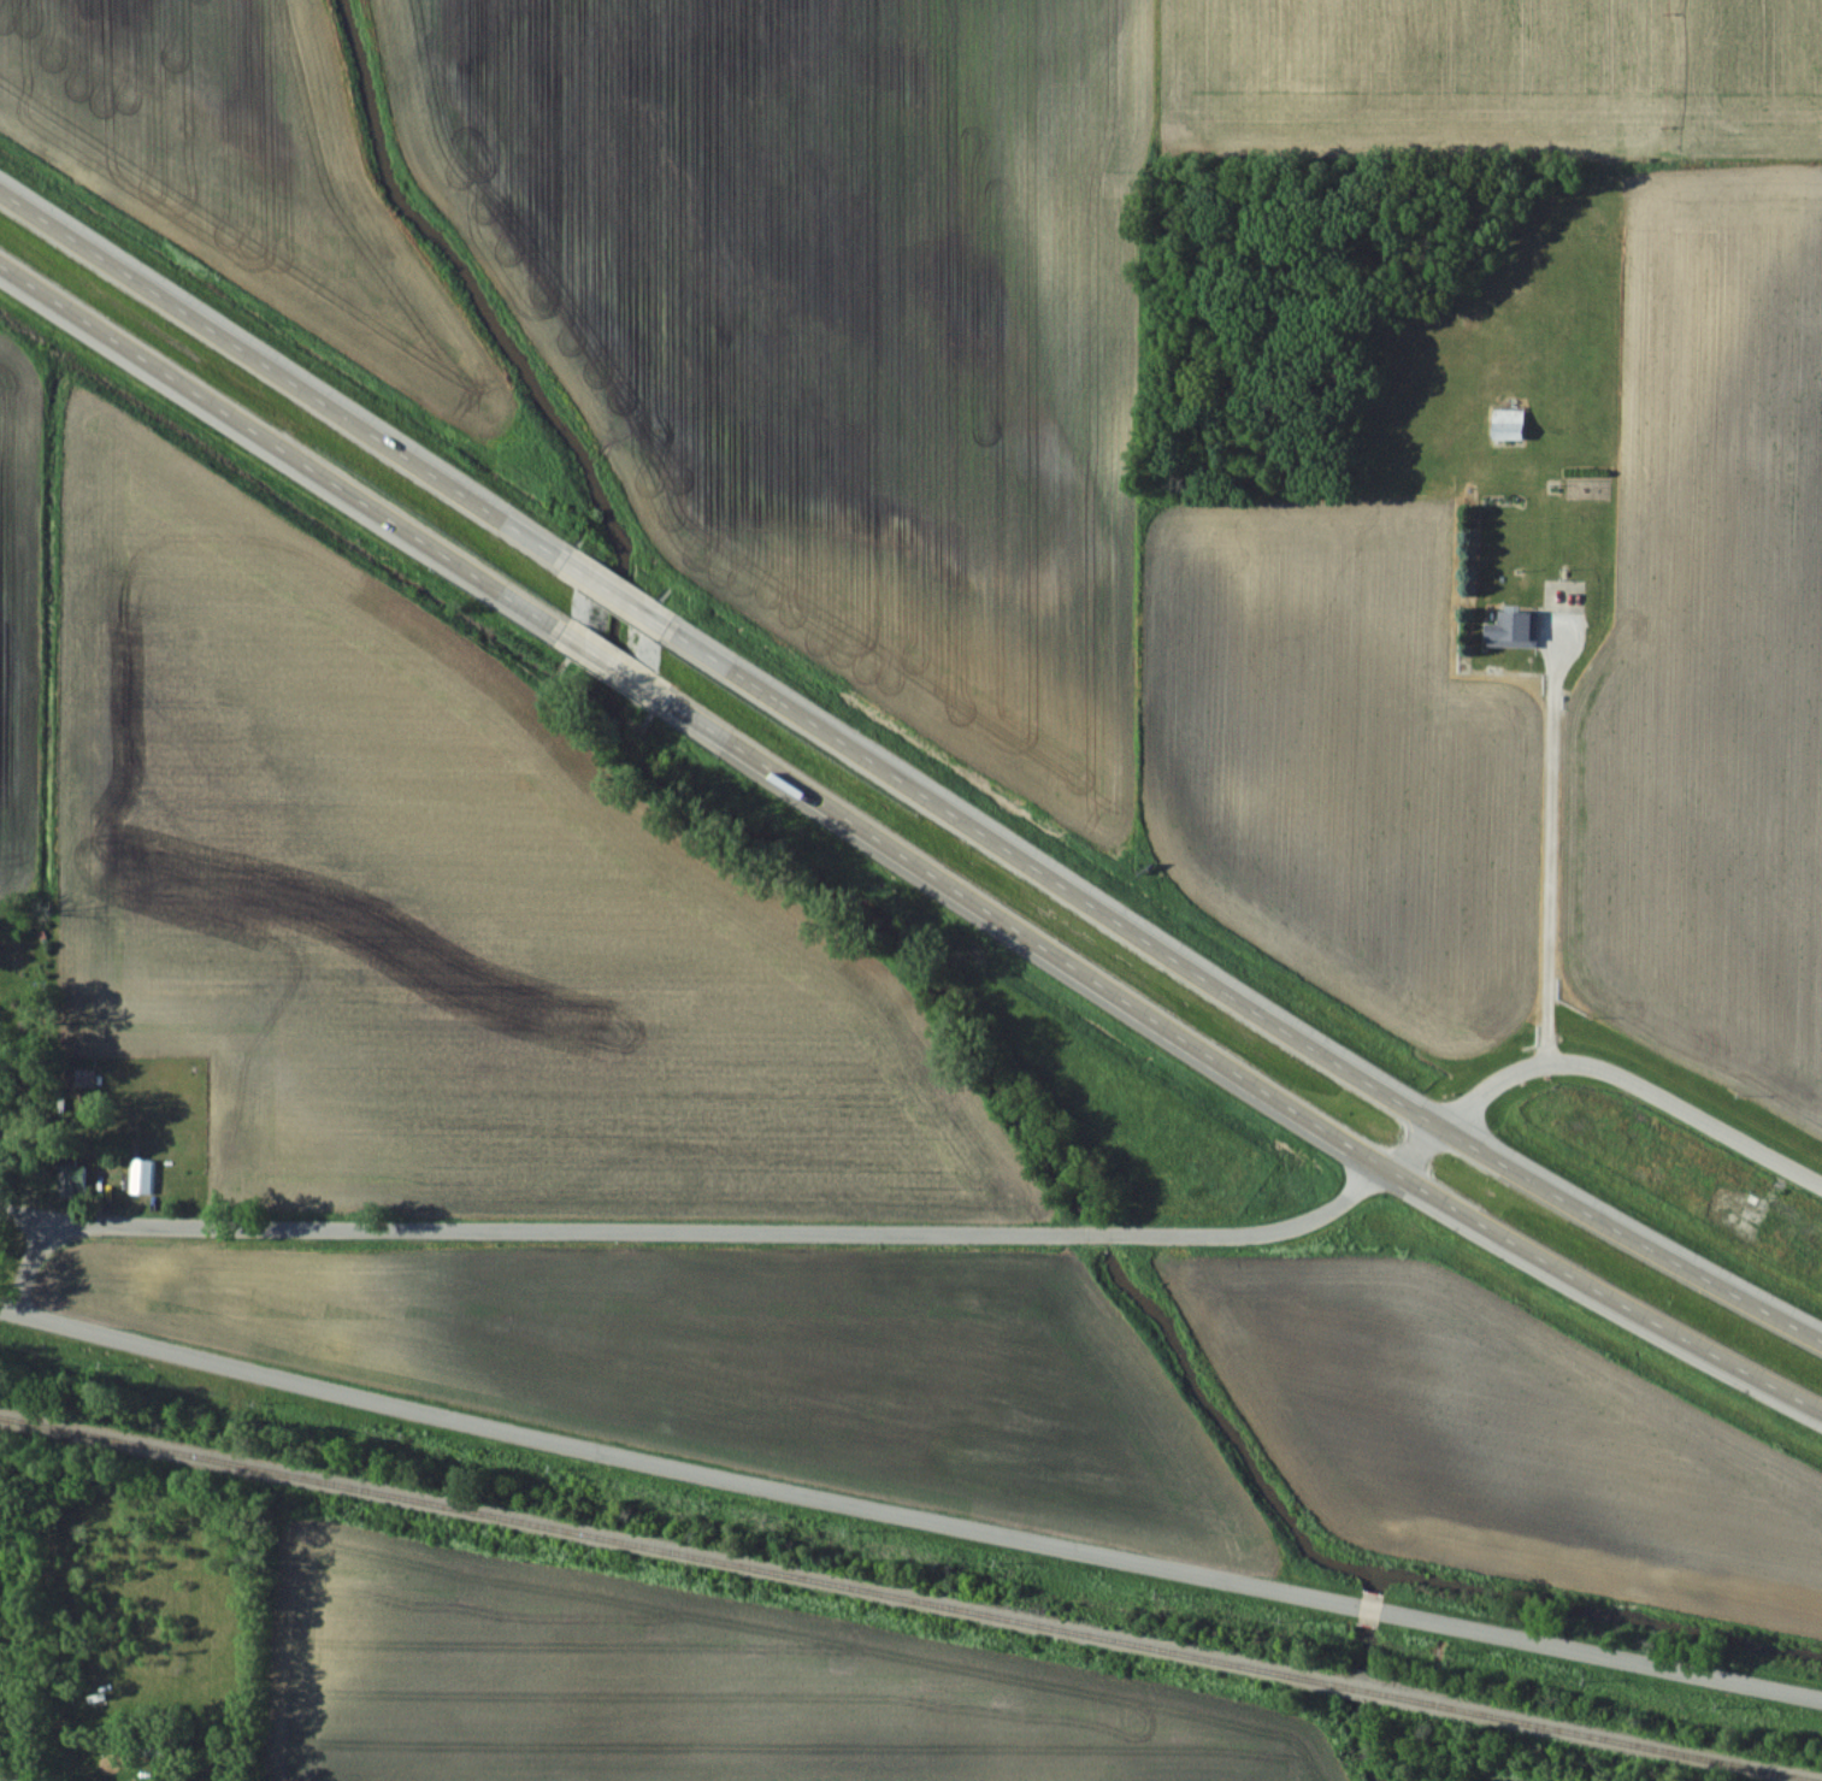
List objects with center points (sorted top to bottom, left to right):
building: (1508, 424)
building: (1513, 630)
road: (901, 782)
road: (1553, 845)
road: (900, 855)
building: (69, 1179)
road: (950, 1231)
road: (28, 1266)
road: (910, 1502)
railway: (908, 1598)
building: (1368, 1606)
road: (20, 1723)

